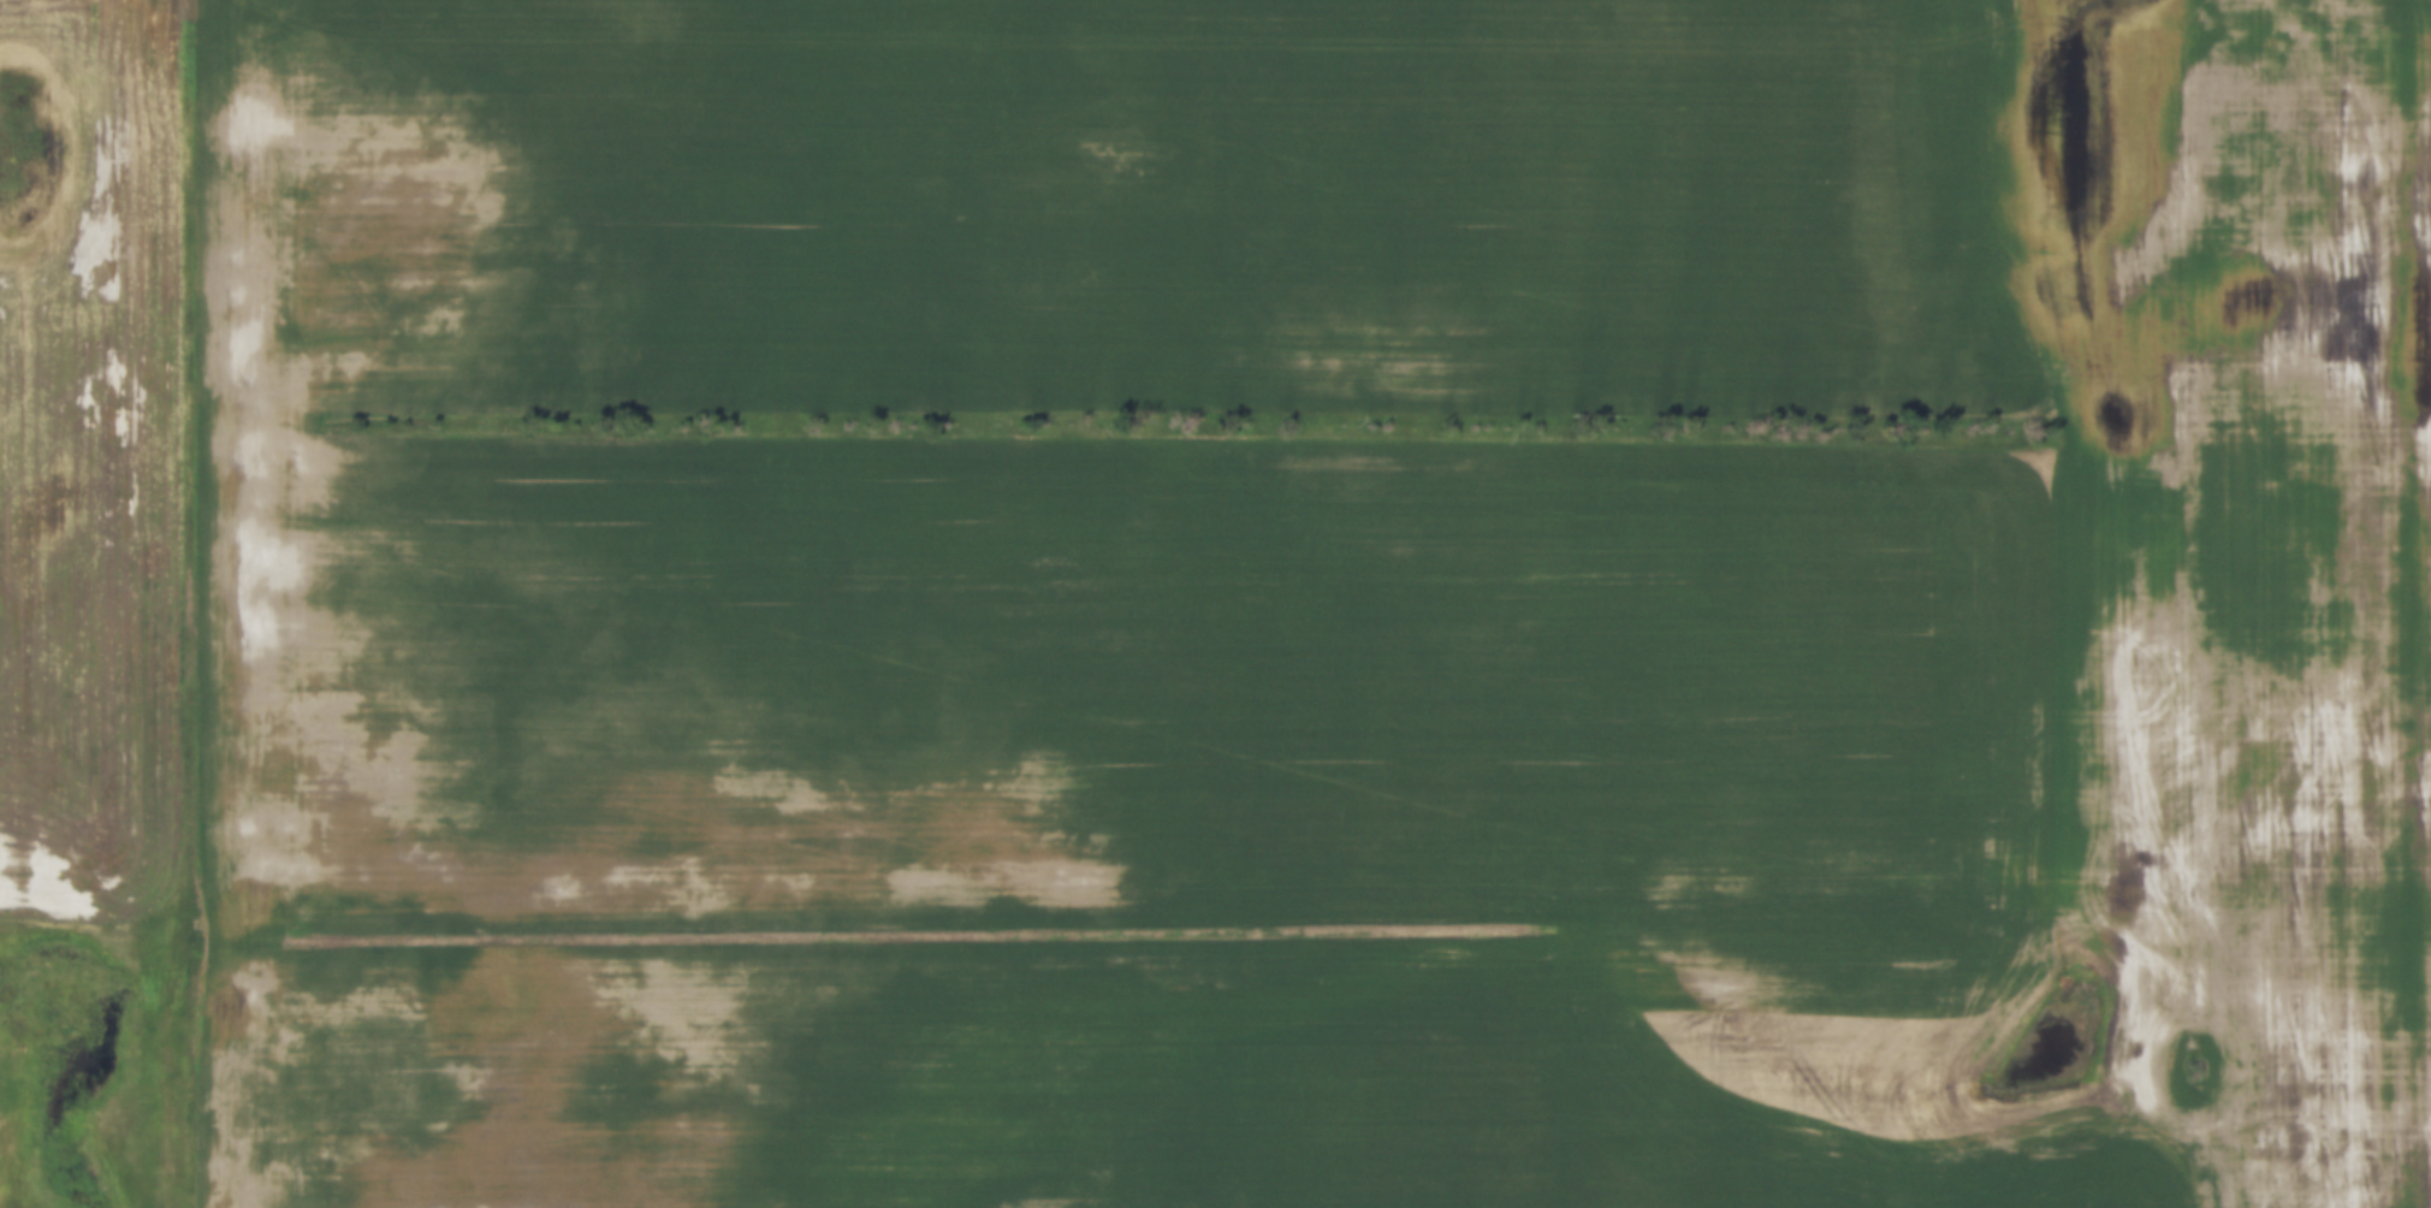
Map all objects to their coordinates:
road: (160, 604)
road: (2092, 633)

